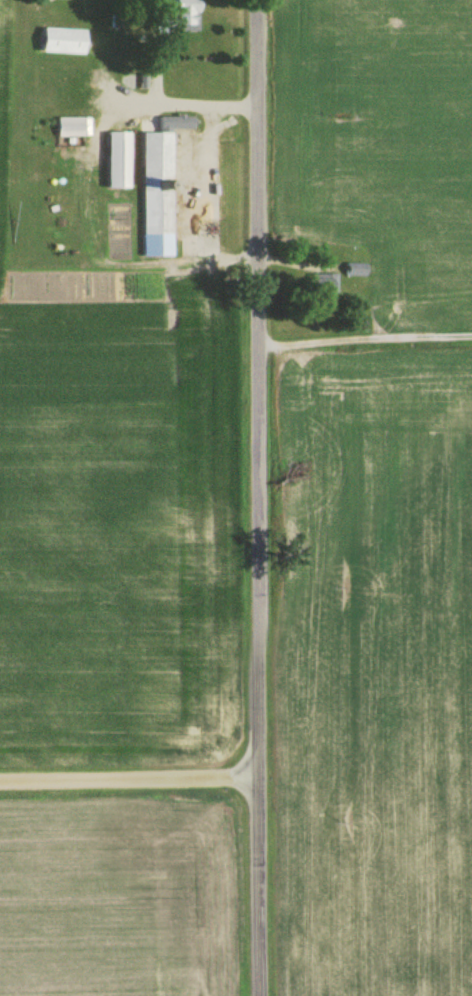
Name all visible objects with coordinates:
building: (182, 16)
building: (63, 43)
building: (176, 124)
building: (70, 129)
building: (118, 162)
building: (157, 197)
building: (354, 271)
building: (322, 286)
road: (255, 497)
road: (129, 779)

